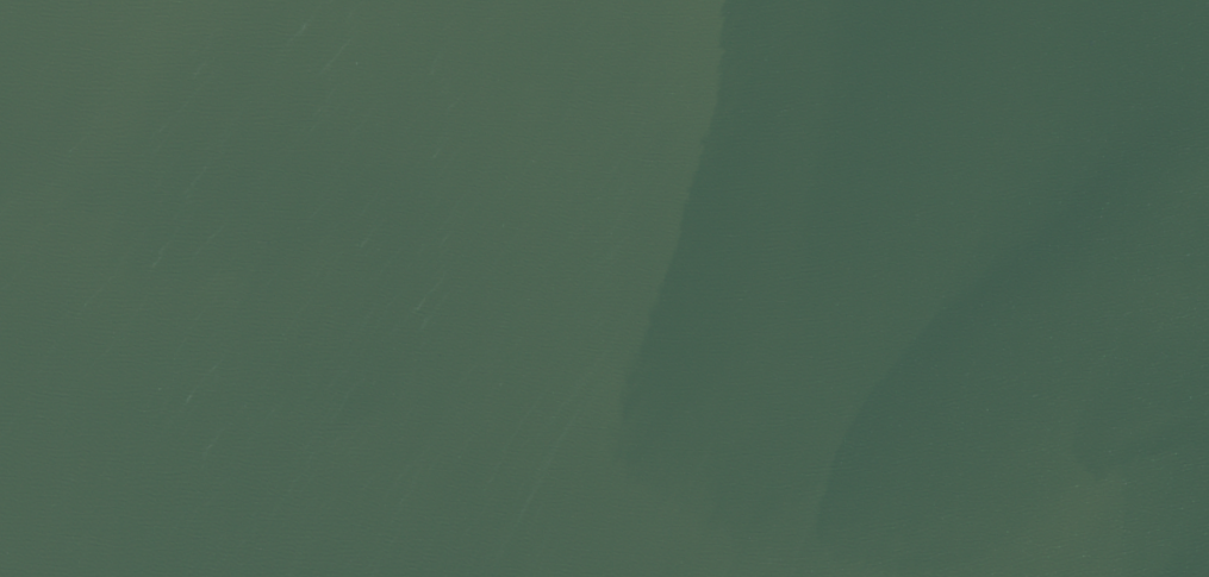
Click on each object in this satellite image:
river: (1173, 99)

